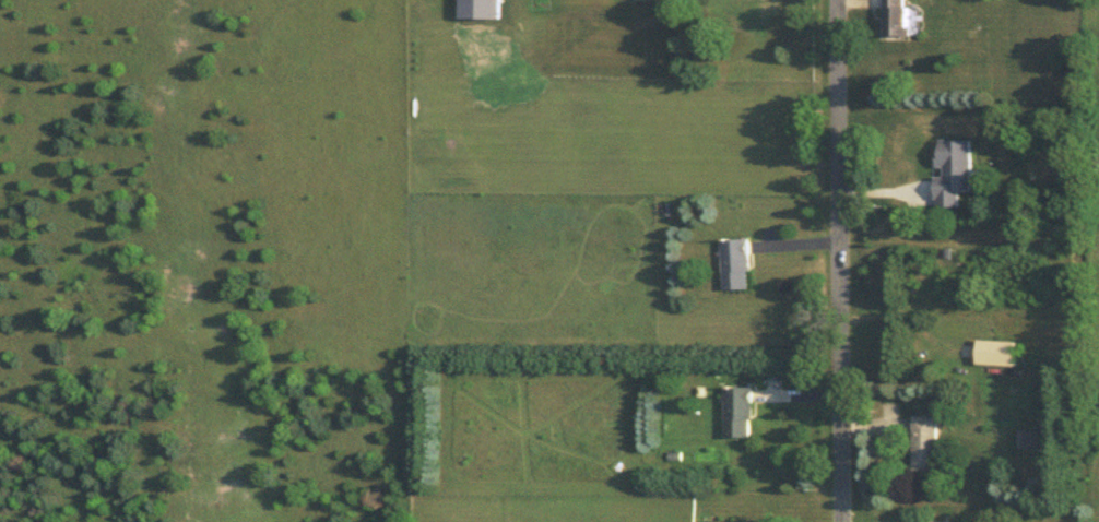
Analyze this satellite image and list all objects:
building: (741, 7)
building: (480, 8)
building: (896, 16)
building: (953, 168)
road: (840, 260)
building: (734, 261)
road: (905, 313)
building: (995, 349)
building: (736, 408)
building: (1029, 436)
building: (924, 440)
building: (936, 520)

